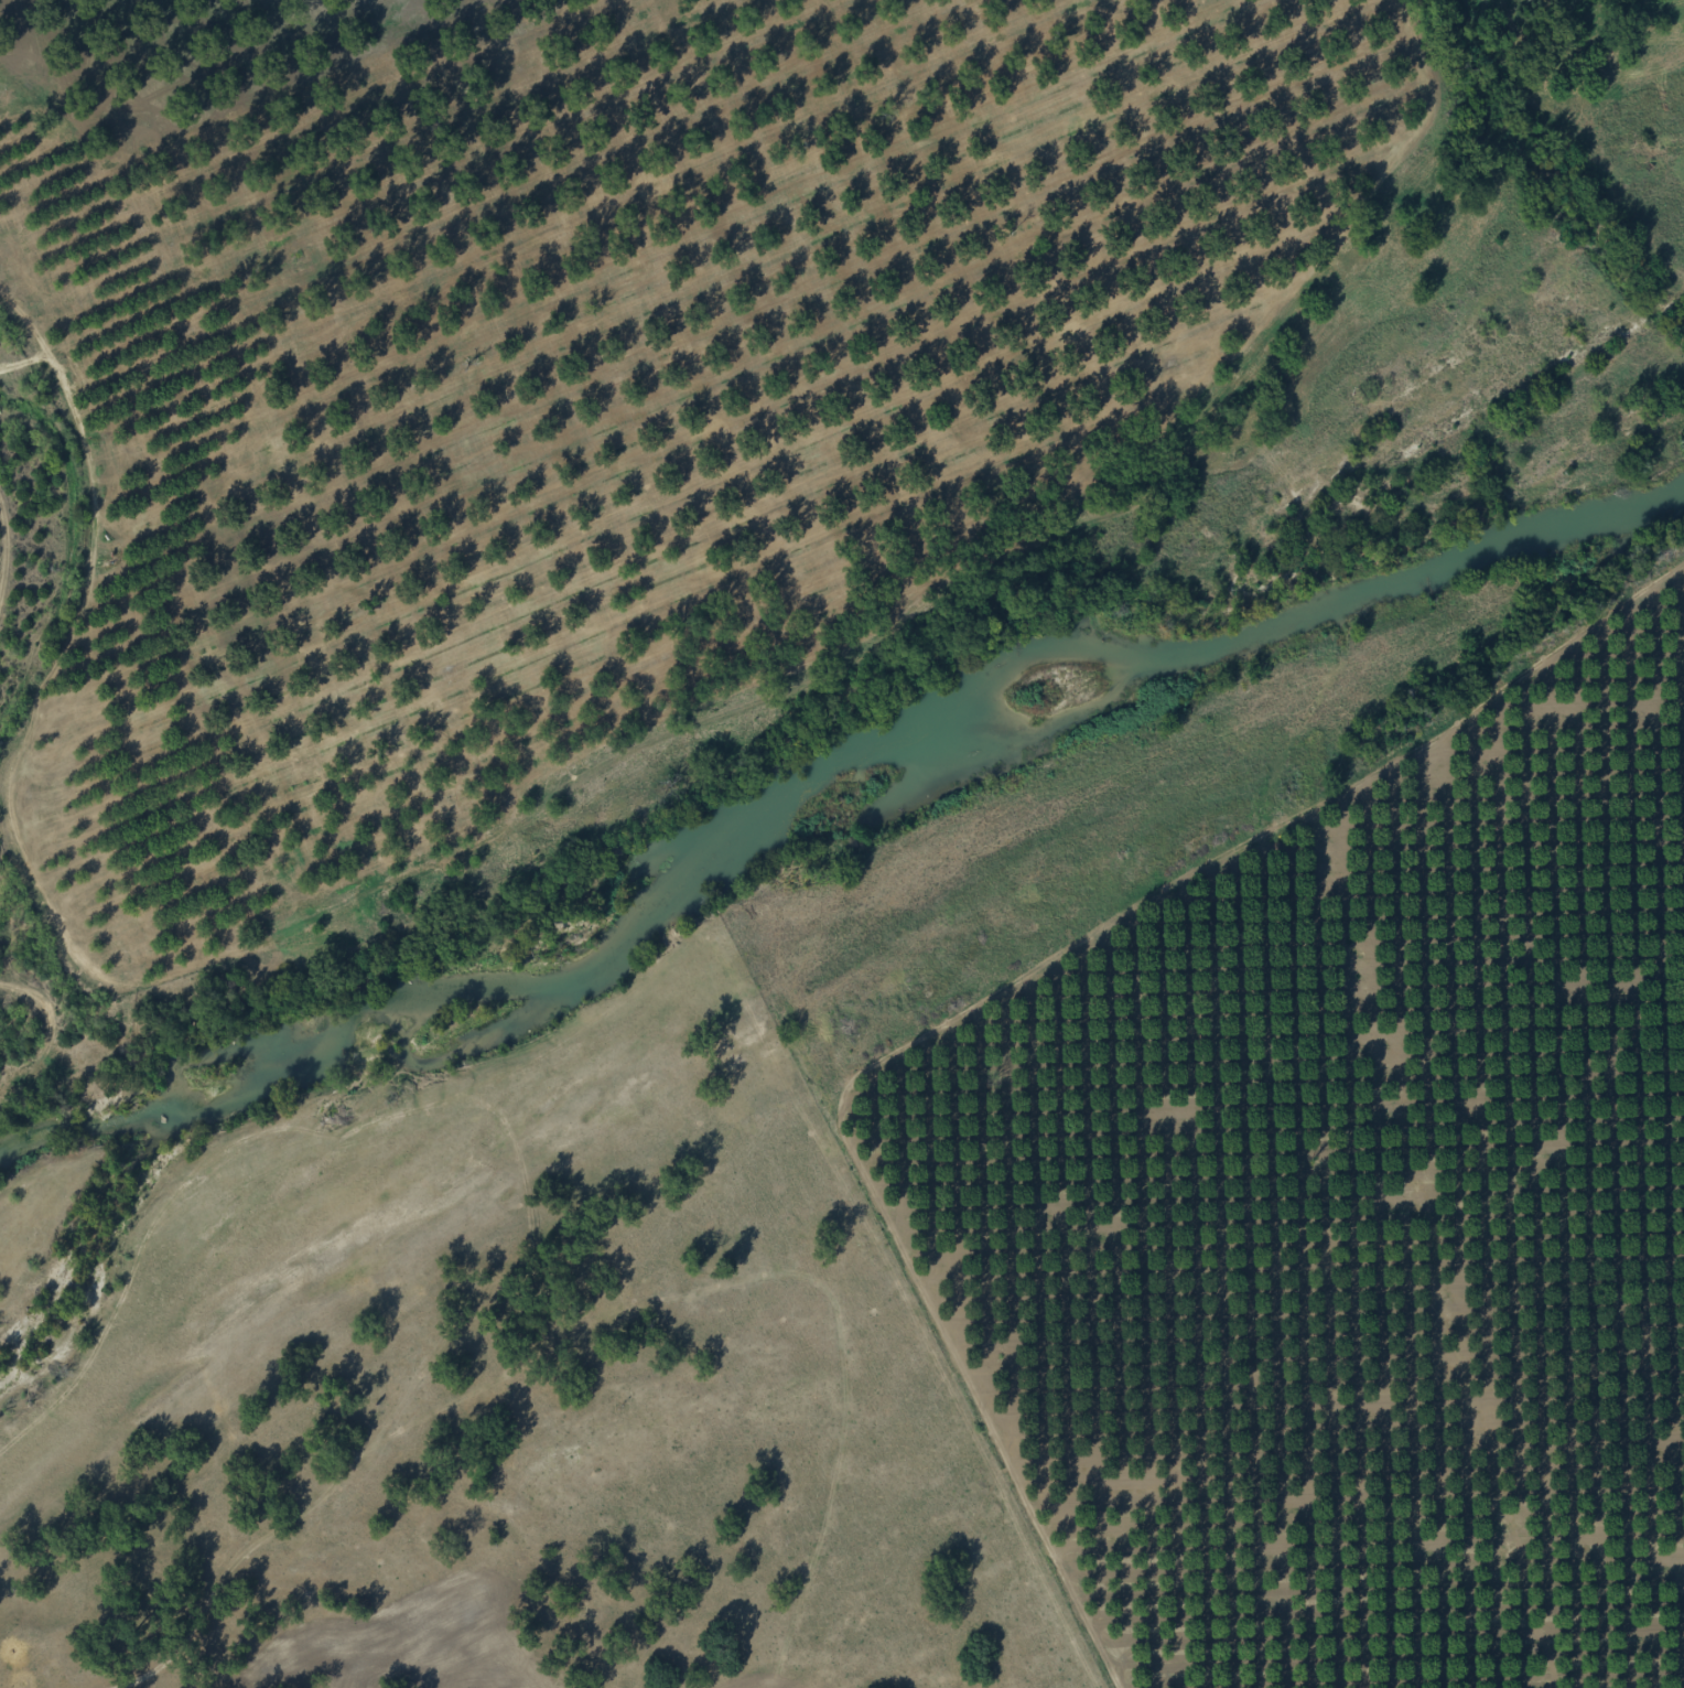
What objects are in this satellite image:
road: (116, 712)
river: (825, 804)
road: (619, 1310)

